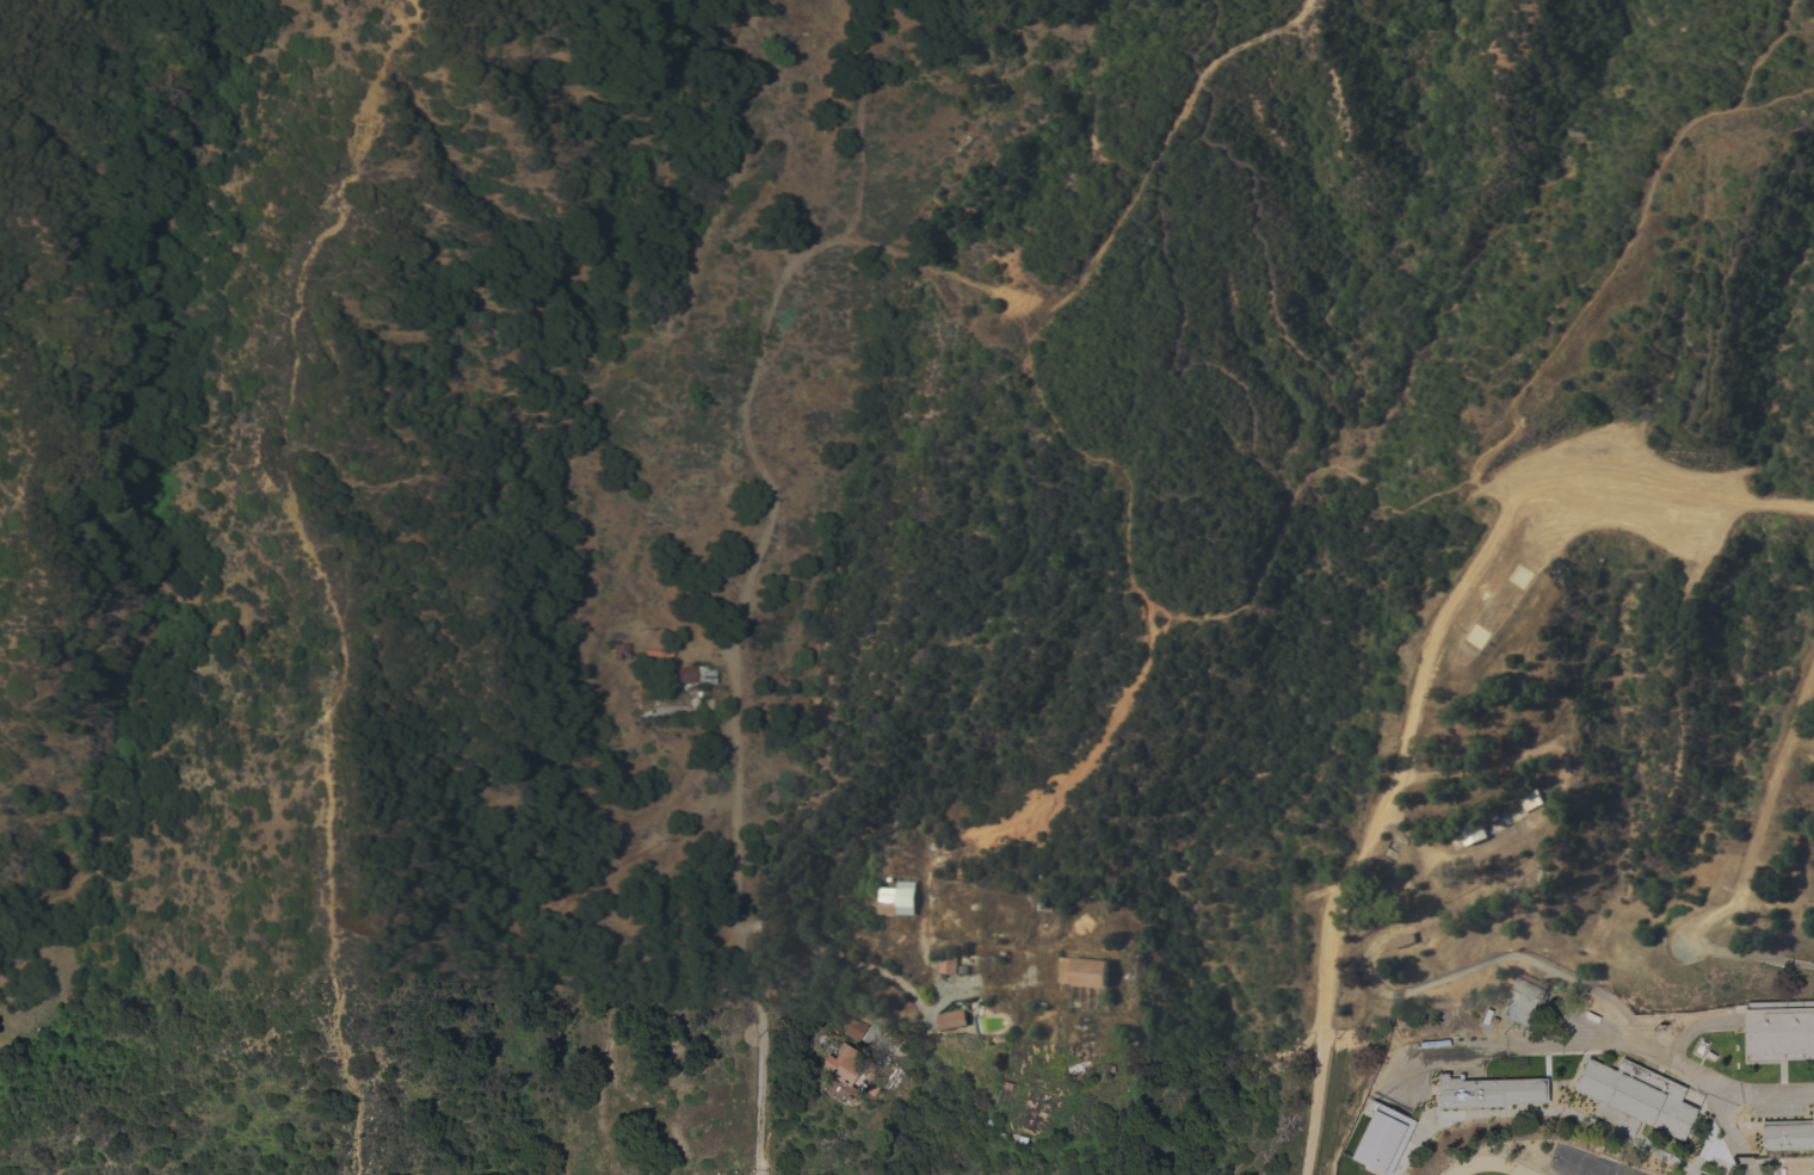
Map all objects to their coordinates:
road: (859, 110)
road: (1166, 134)
road: (752, 569)
park: (1611, 625)
building: (621, 650)
building: (695, 675)
road: (1142, 675)
road: (1421, 685)
building: (1532, 799)
building: (1492, 816)
road: (1765, 820)
building: (1474, 833)
road: (319, 834)
building: (901, 898)
building: (876, 935)
building: (1405, 940)
building: (1128, 956)
road: (1748, 956)
building: (949, 963)
road: (1543, 965)
building: (1086, 972)
road: (1000, 989)
building: (1123, 992)
building: (1525, 1001)
building: (954, 1019)
building: (850, 1026)
building: (1778, 1029)
building: (1091, 1034)
road: (1616, 1045)
building: (853, 1072)
building: (894, 1080)
building: (1488, 1093)
building: (1635, 1099)
building: (1036, 1109)
road: (1728, 1132)
building: (1788, 1134)
building: (1382, 1139)

